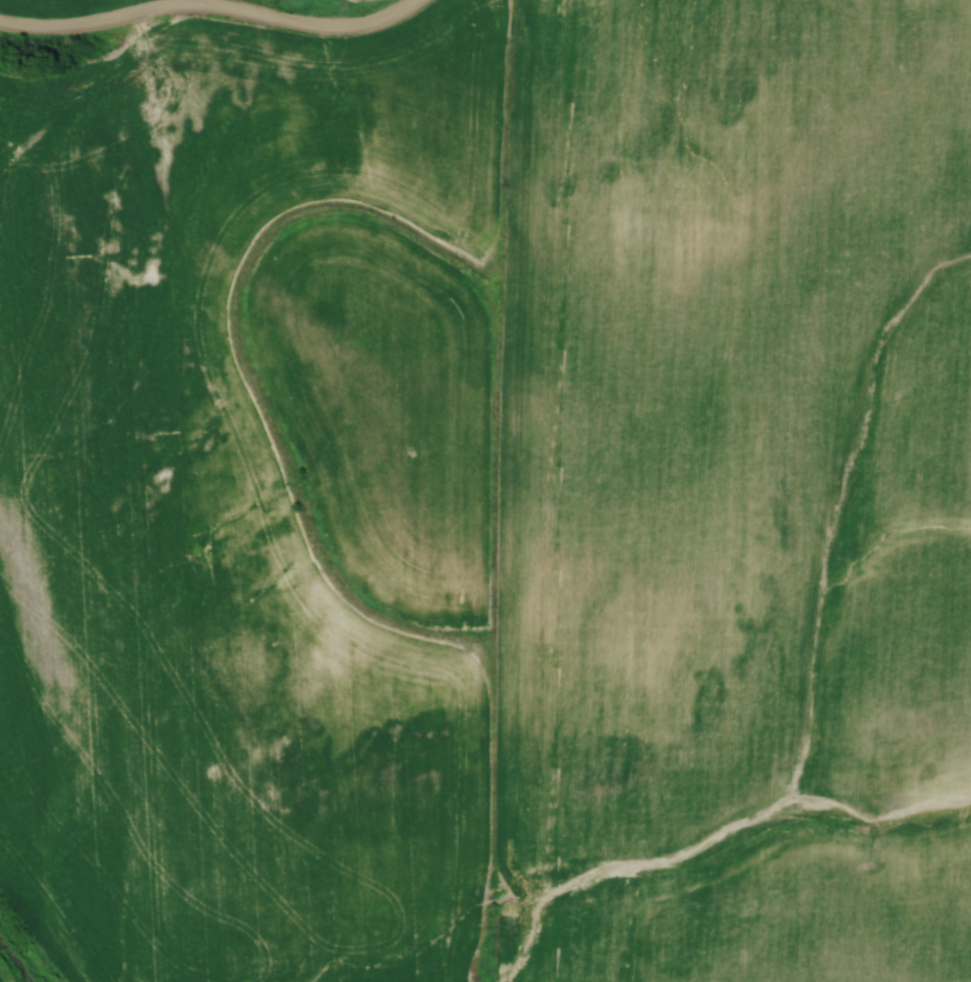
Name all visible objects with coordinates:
road: (215, 2)

